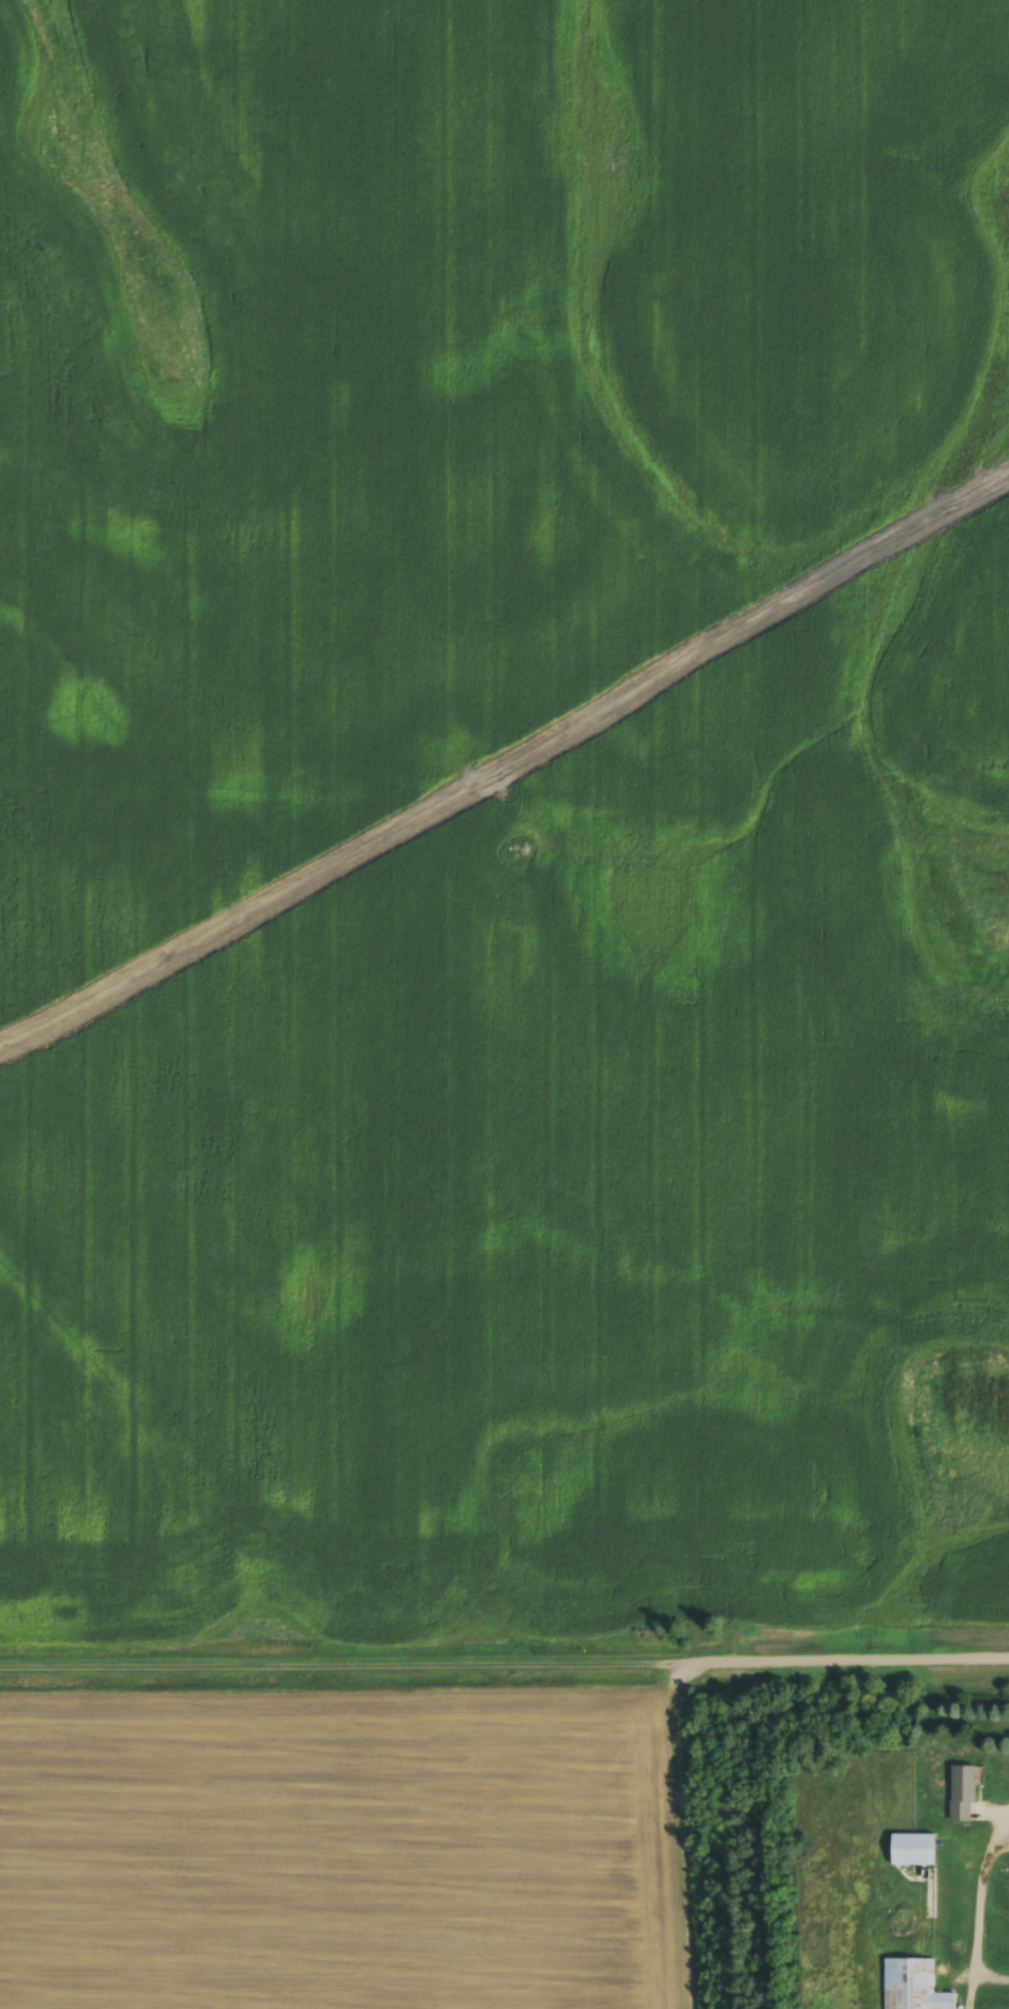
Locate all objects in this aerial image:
road: (848, 1653)
building: (963, 1795)
road: (998, 1809)
building: (914, 1851)
building: (913, 1986)

